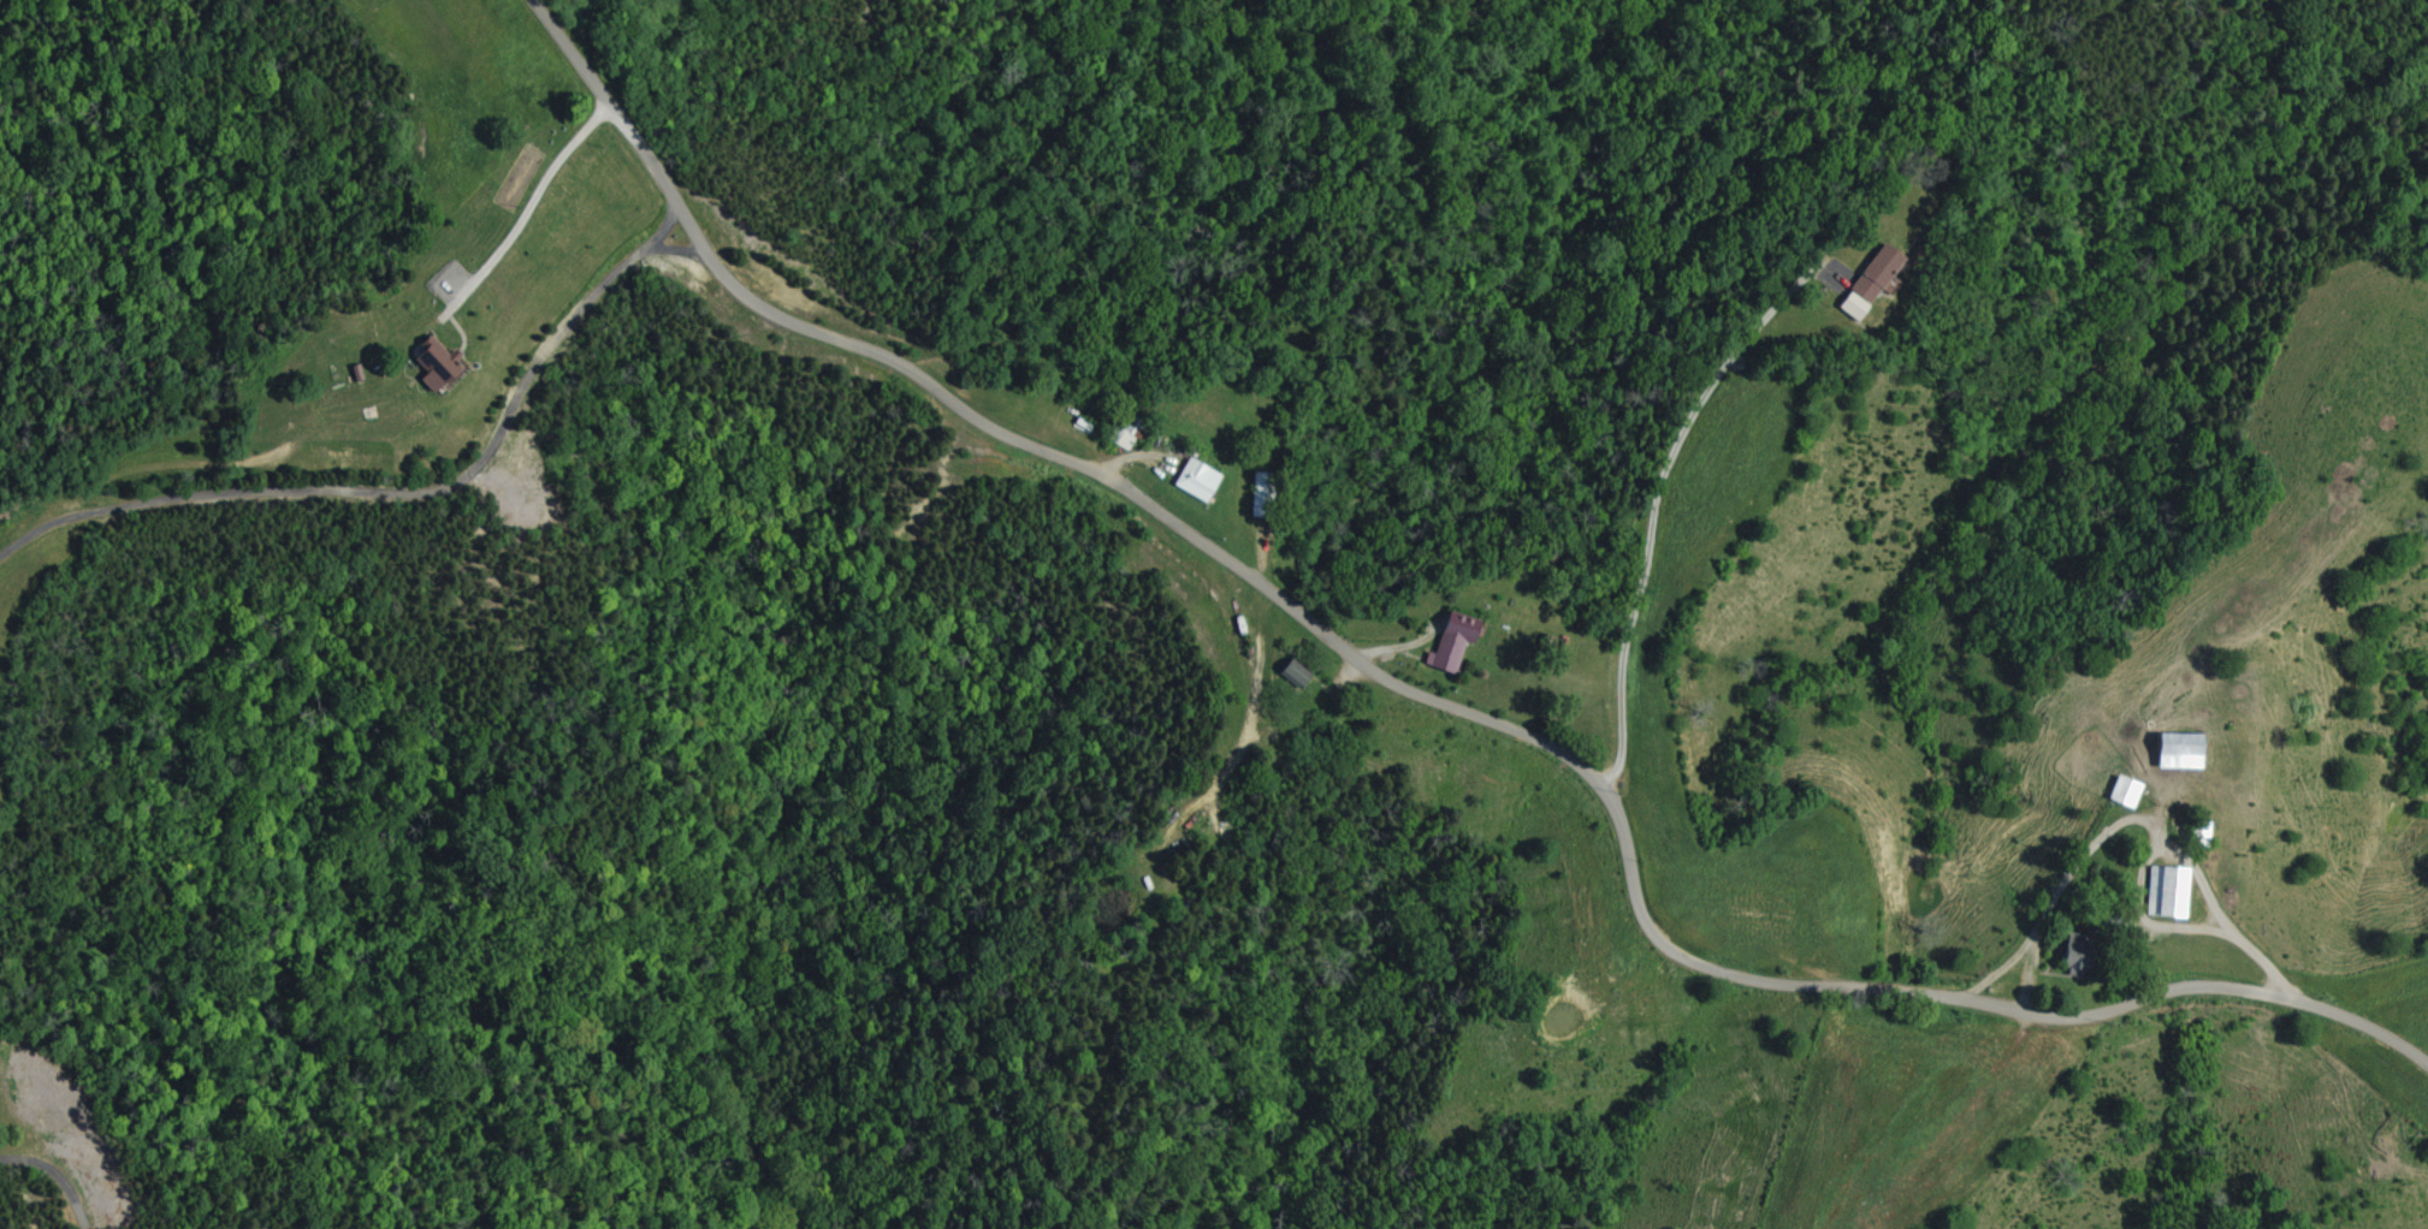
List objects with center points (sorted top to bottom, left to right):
road: (683, 269)
building: (1864, 281)
building: (439, 364)
building: (1117, 441)
road: (397, 494)
road: (1658, 551)
building: (1445, 641)
building: (1285, 671)
road: (1256, 725)
road: (1408, 728)
building: (2171, 750)
building: (2162, 891)
road: (2204, 910)
building: (2066, 952)
road: (2274, 988)
road: (58, 1174)

